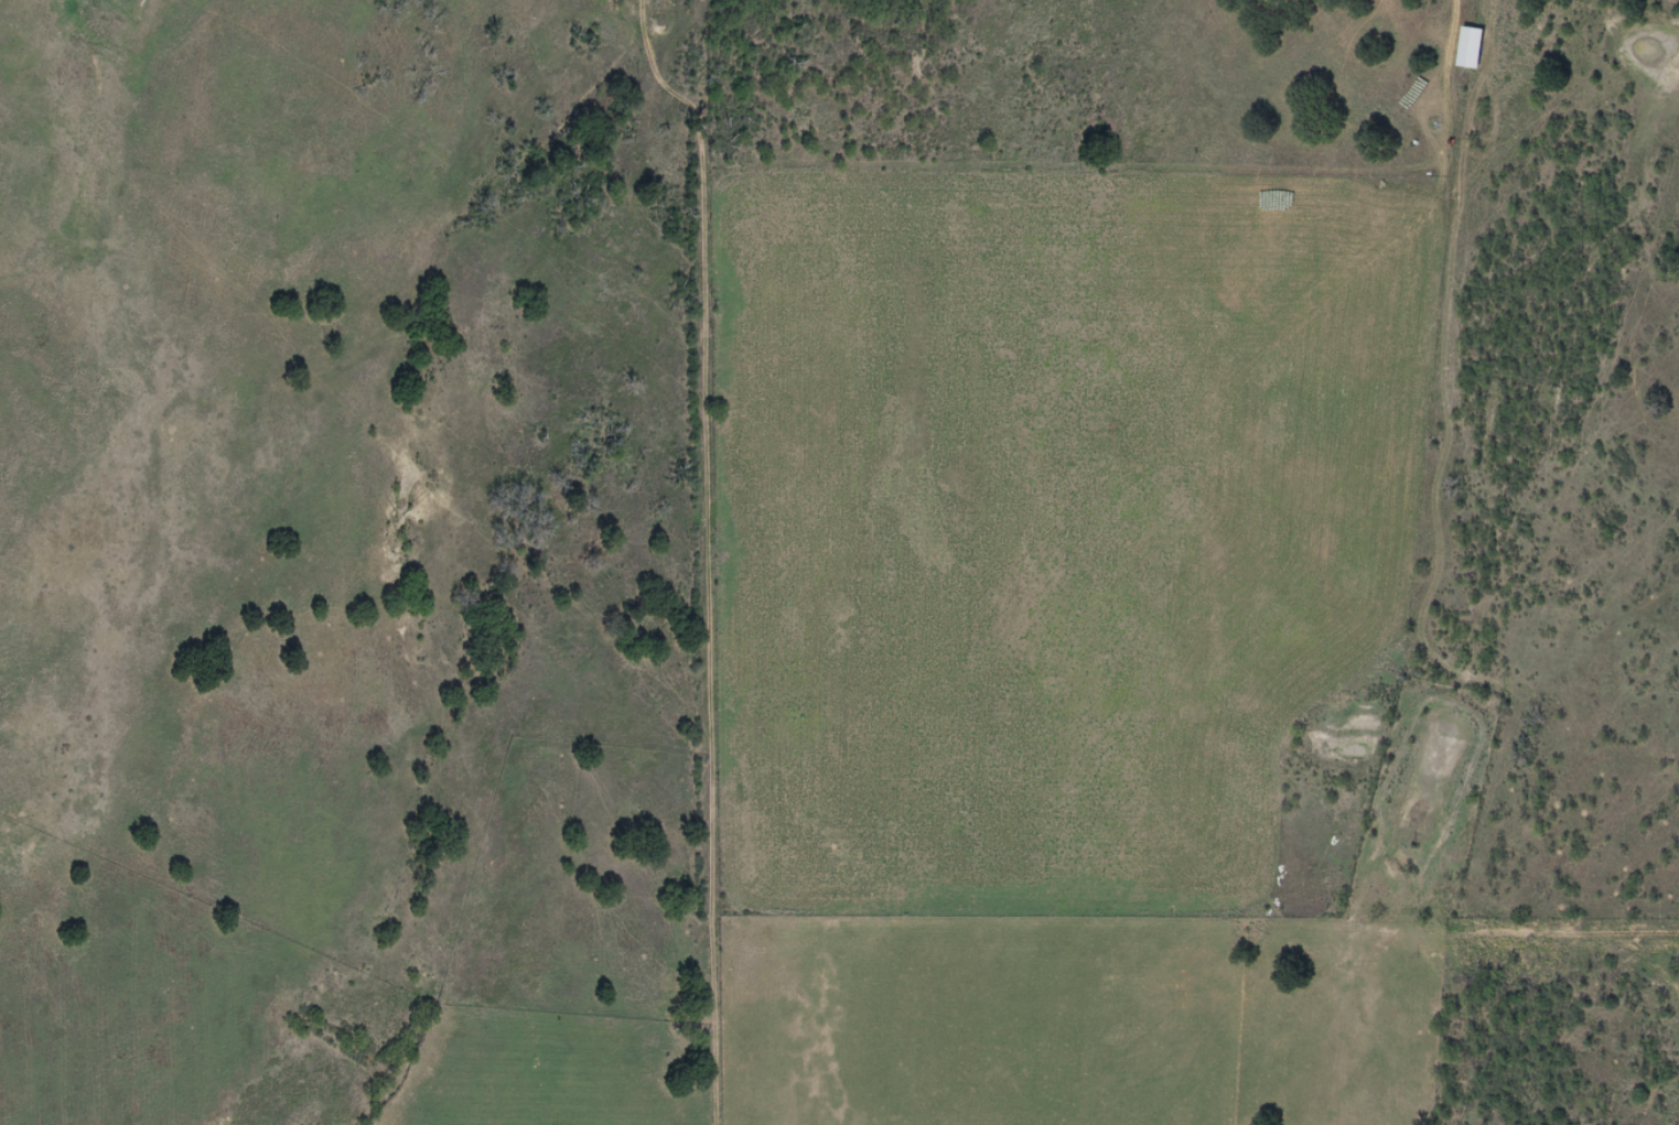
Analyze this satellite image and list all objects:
road: (2, 4)

